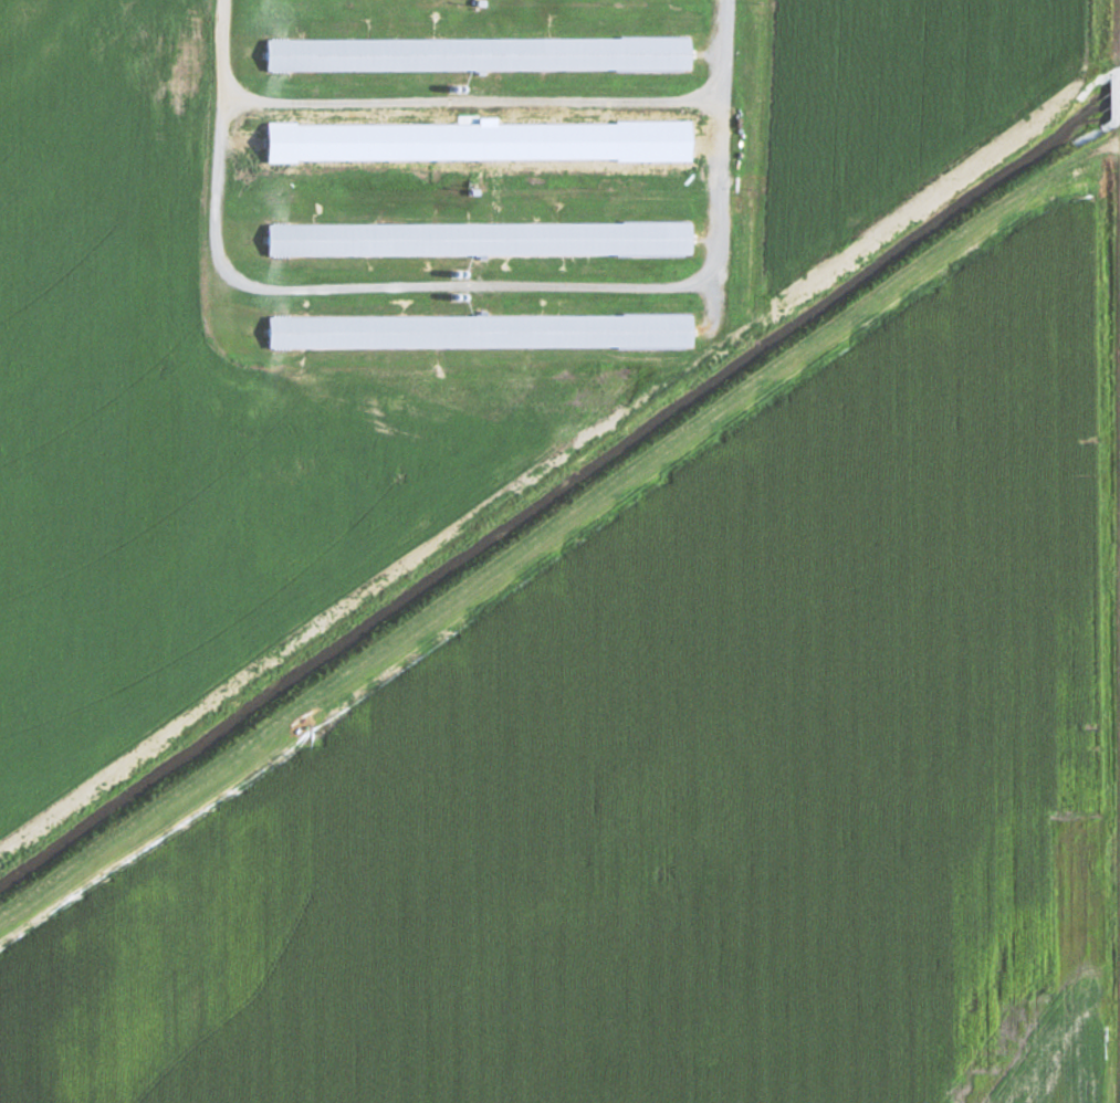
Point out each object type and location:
building: (481, 55)
building: (481, 148)
building: (482, 240)
building: (482, 333)

